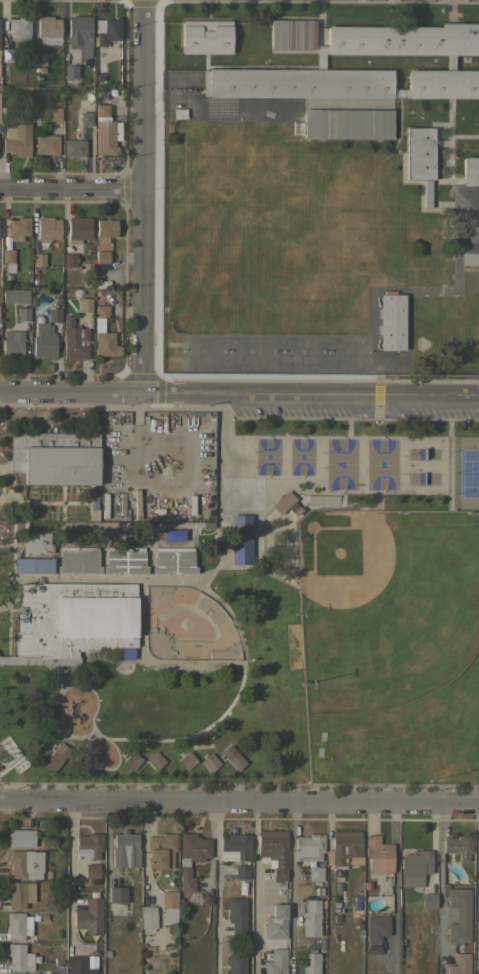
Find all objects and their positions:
building: (49, 30)
building: (107, 30)
building: (20, 31)
building: (80, 34)
building: (292, 34)
building: (207, 36)
building: (8, 55)
building: (39, 58)
building: (321, 61)
building: (71, 71)
building: (55, 114)
building: (86, 119)
building: (348, 123)
building: (478, 127)
building: (104, 131)
building: (17, 139)
building: (46, 144)
building: (74, 148)
building: (420, 157)
building: (470, 170)
road: (73, 184)
road: (145, 197)
building: (18, 228)
building: (47, 229)
building: (78, 229)
building: (103, 232)
building: (101, 257)
building: (8, 259)
building: (38, 259)
building: (69, 259)
building: (75, 292)
building: (15, 295)
building: (84, 304)
building: (23, 313)
building: (54, 315)
building: (391, 321)
building: (103, 334)
building: (73, 339)
building: (43, 341)
building: (11, 342)
road: (72, 393)
road: (311, 395)
building: (55, 457)
park: (340, 463)
park: (380, 464)
park: (464, 472)
building: (285, 504)
building: (198, 525)
building: (172, 535)
building: (240, 539)
building: (38, 542)
building: (78, 560)
building: (124, 560)
building: (174, 560)
building: (33, 565)
park: (238, 597)
park: (383, 604)
building: (72, 622)
park: (186, 625)
road: (242, 654)
road: (152, 663)
building: (55, 757)
building: (232, 757)
building: (131, 760)
building: (154, 760)
building: (186, 760)
building: (209, 761)
road: (239, 802)
building: (20, 837)
building: (88, 846)
building: (308, 846)
building: (458, 846)
building: (234, 847)
building: (344, 848)
building: (125, 849)
building: (160, 850)
building: (273, 851)
building: (377, 854)
building: (190, 857)
building: (24, 863)
building: (414, 867)
building: (91, 870)
building: (241, 871)
building: (315, 872)
road: (69, 874)
building: (337, 876)
road: (439, 880)
road: (477, 884)
road: (218, 888)
road: (254, 888)
road: (291, 888)
road: (396, 888)
building: (19, 893)
building: (117, 894)
building: (428, 900)
building: (169, 906)
building: (89, 915)
building: (459, 916)
building: (148, 917)
building: (238, 917)
building: (311, 918)
building: (275, 922)
building: (17, 925)
building: (376, 927)
building: (371, 948)
building: (18, 957)
building: (276, 962)
building: (236, 963)
building: (310, 963)
building: (460, 964)
building: (78, 965)
building: (44, 973)
building: (377, 973)

